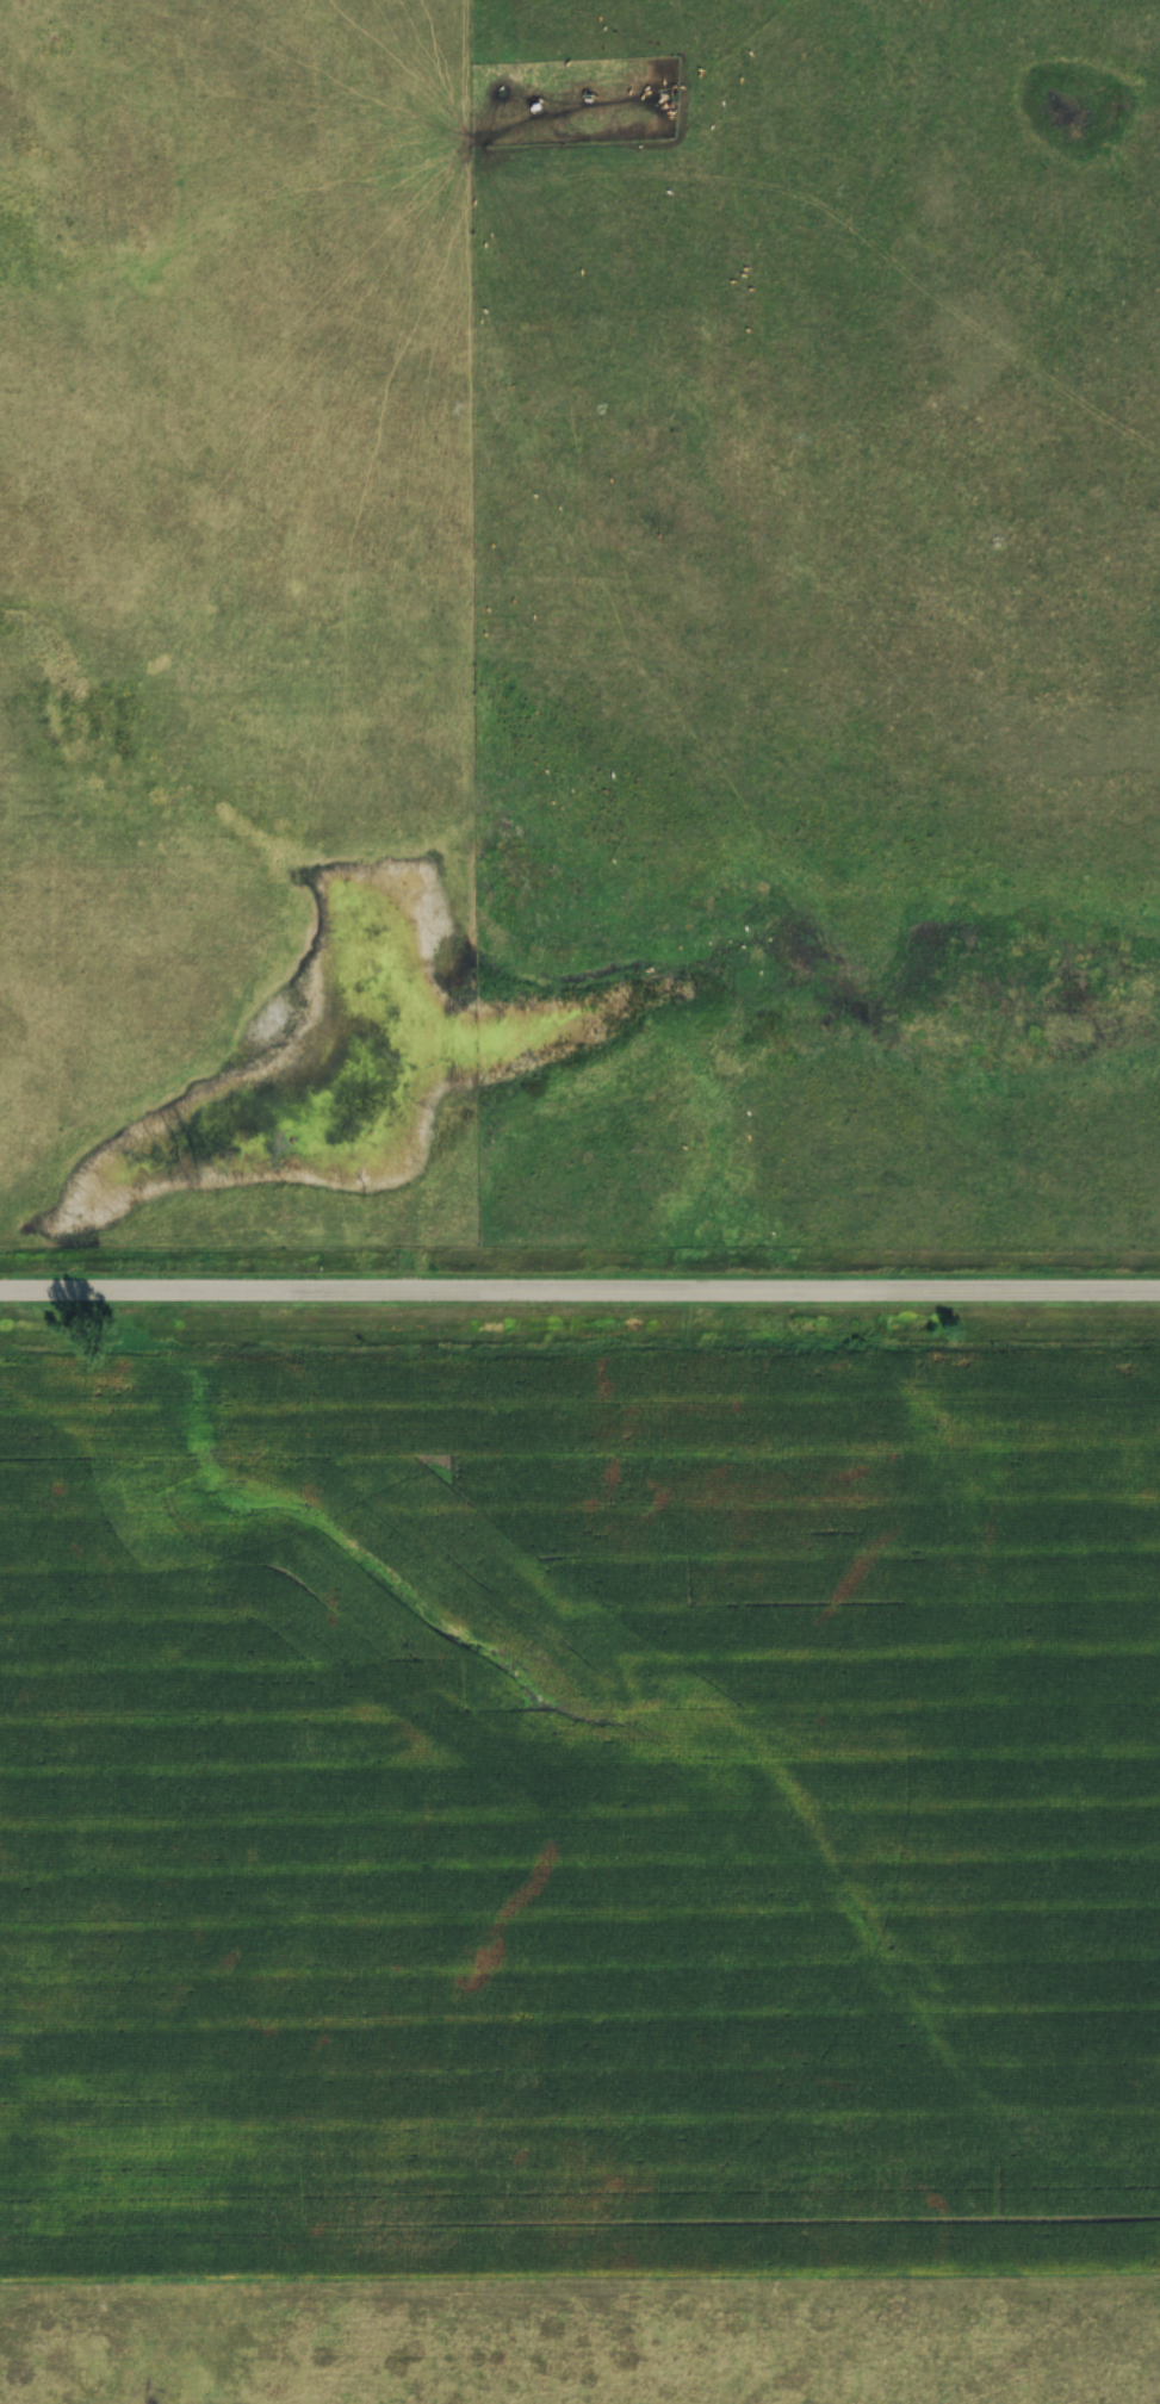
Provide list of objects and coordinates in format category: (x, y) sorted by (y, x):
road: (579, 1284)

